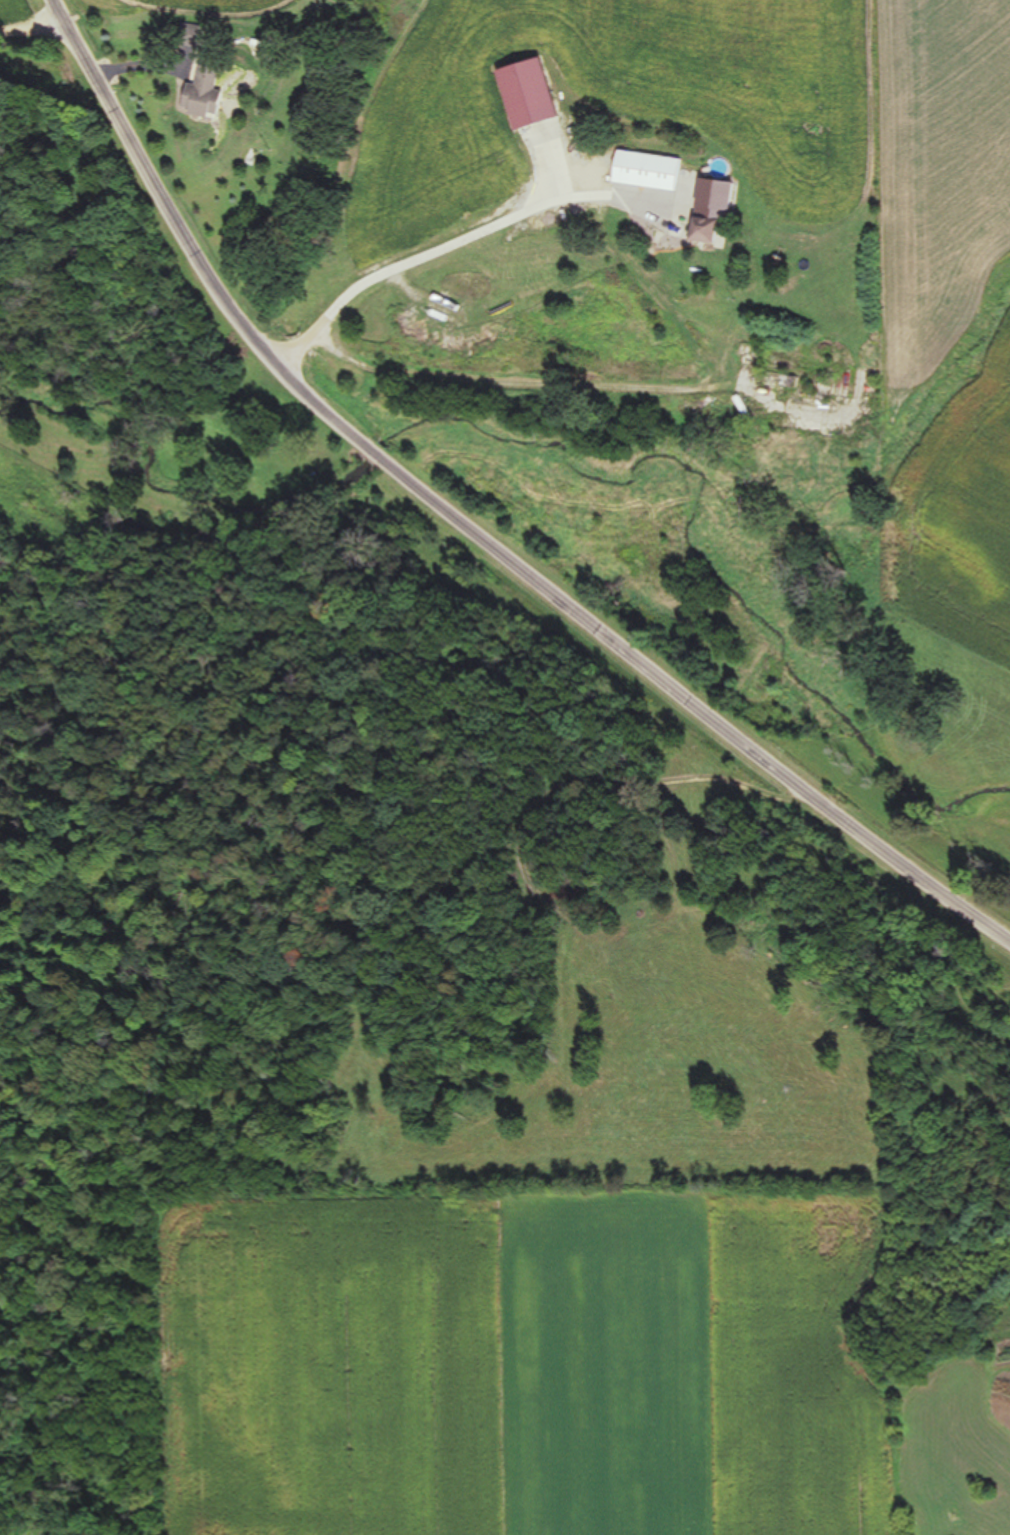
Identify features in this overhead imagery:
building: (209, 93)
building: (536, 94)
building: (652, 171)
building: (712, 212)
road: (436, 267)
building: (458, 283)
road: (471, 502)

